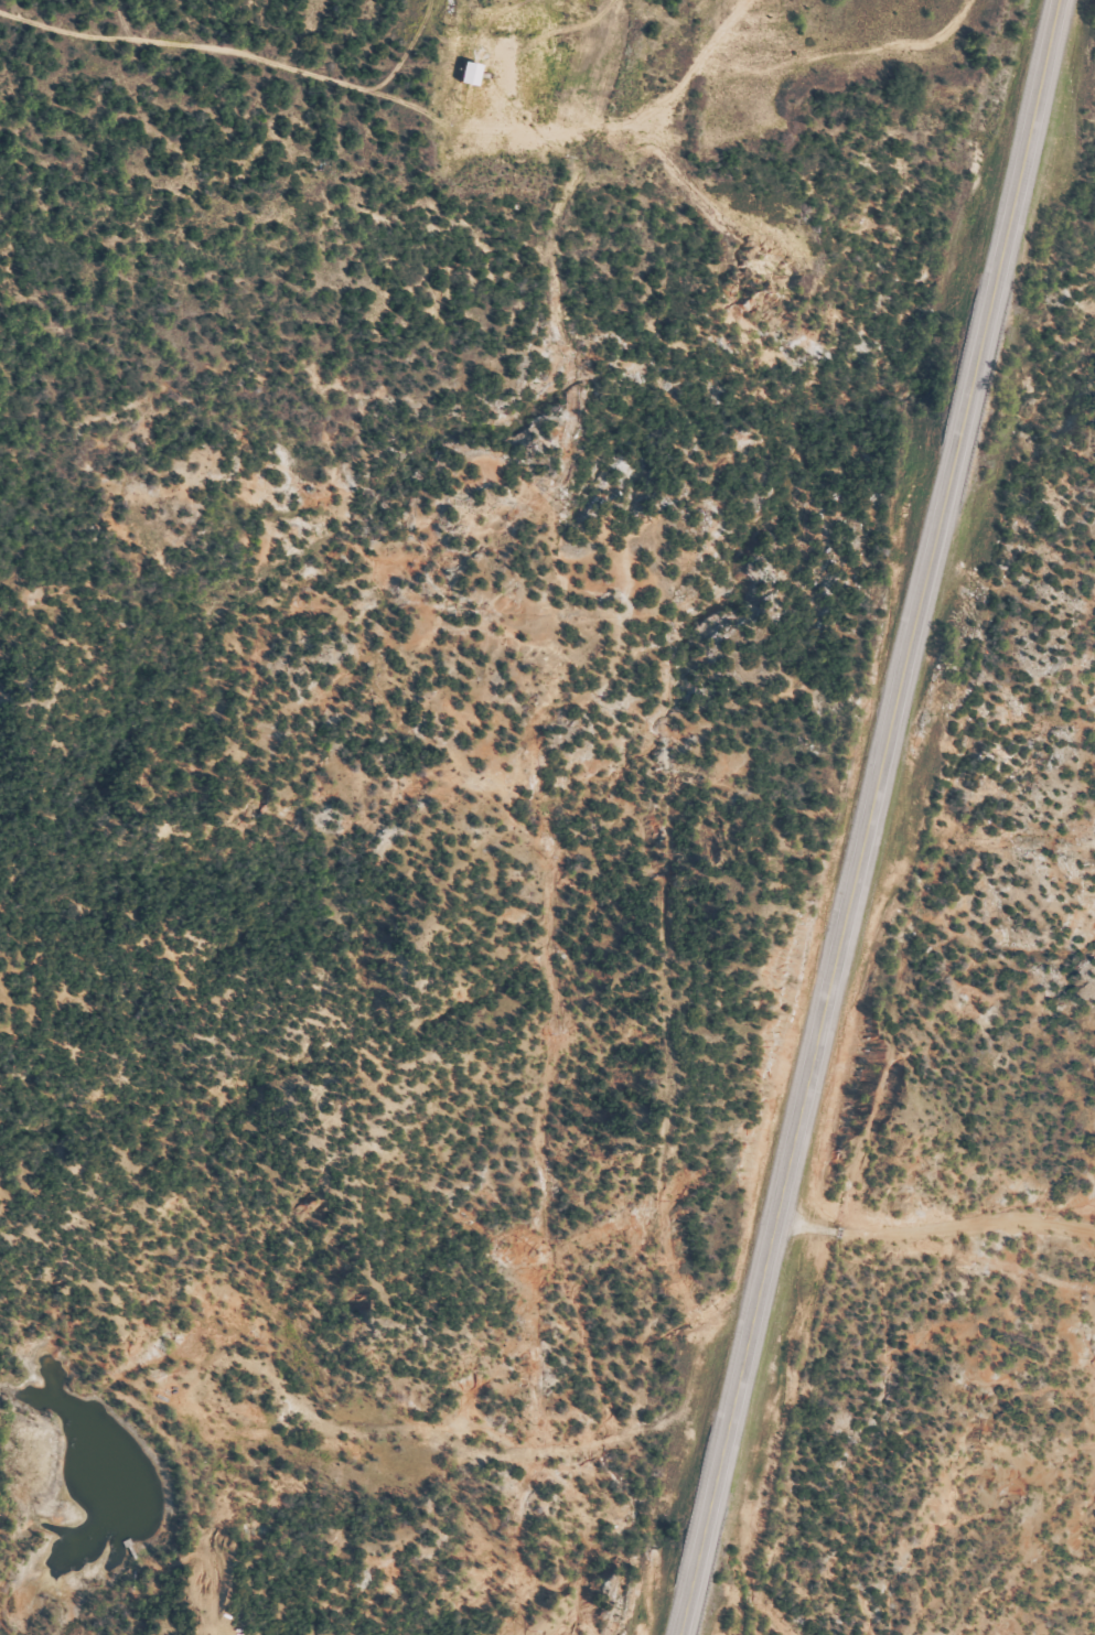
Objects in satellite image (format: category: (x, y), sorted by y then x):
road: (869, 817)
road: (933, 1240)
road: (416, 1400)
road: (623, 1526)

